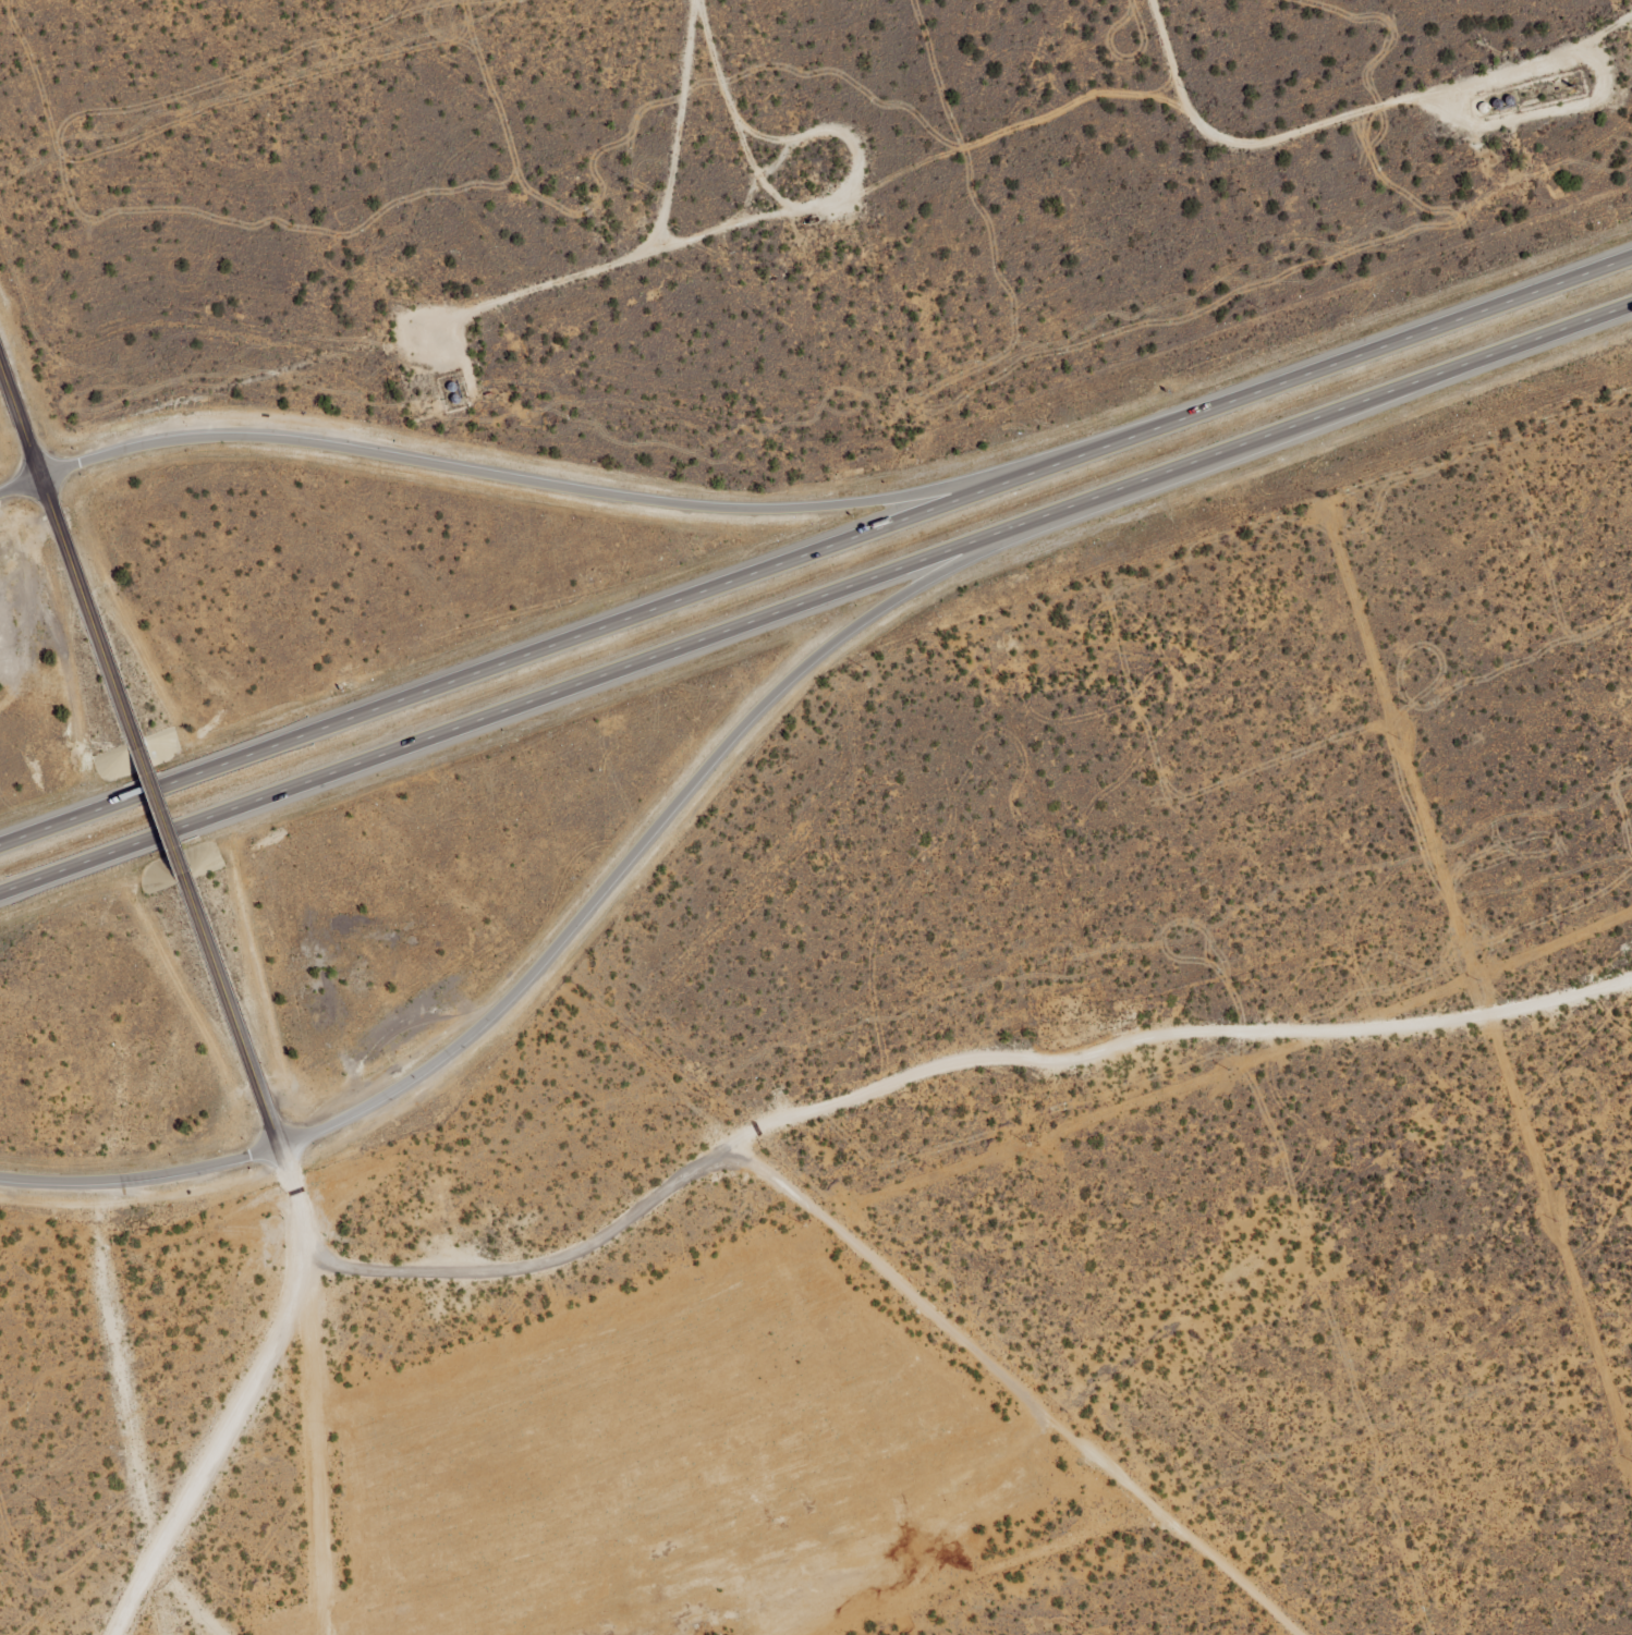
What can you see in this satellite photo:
road: (632, 132)
road: (1271, 149)
road: (460, 306)
road: (20, 479)
road: (20, 483)
road: (625, 496)
road: (816, 548)
road: (66, 553)
road: (833, 588)
road: (158, 808)
road: (665, 817)
road: (19, 883)
road: (231, 1011)
road: (1174, 1034)
road: (141, 1176)
road: (297, 1204)
road: (539, 1262)
road: (950, 1333)
road: (127, 1420)
road: (211, 1445)
road: (316, 1448)
road: (1056, 1545)

